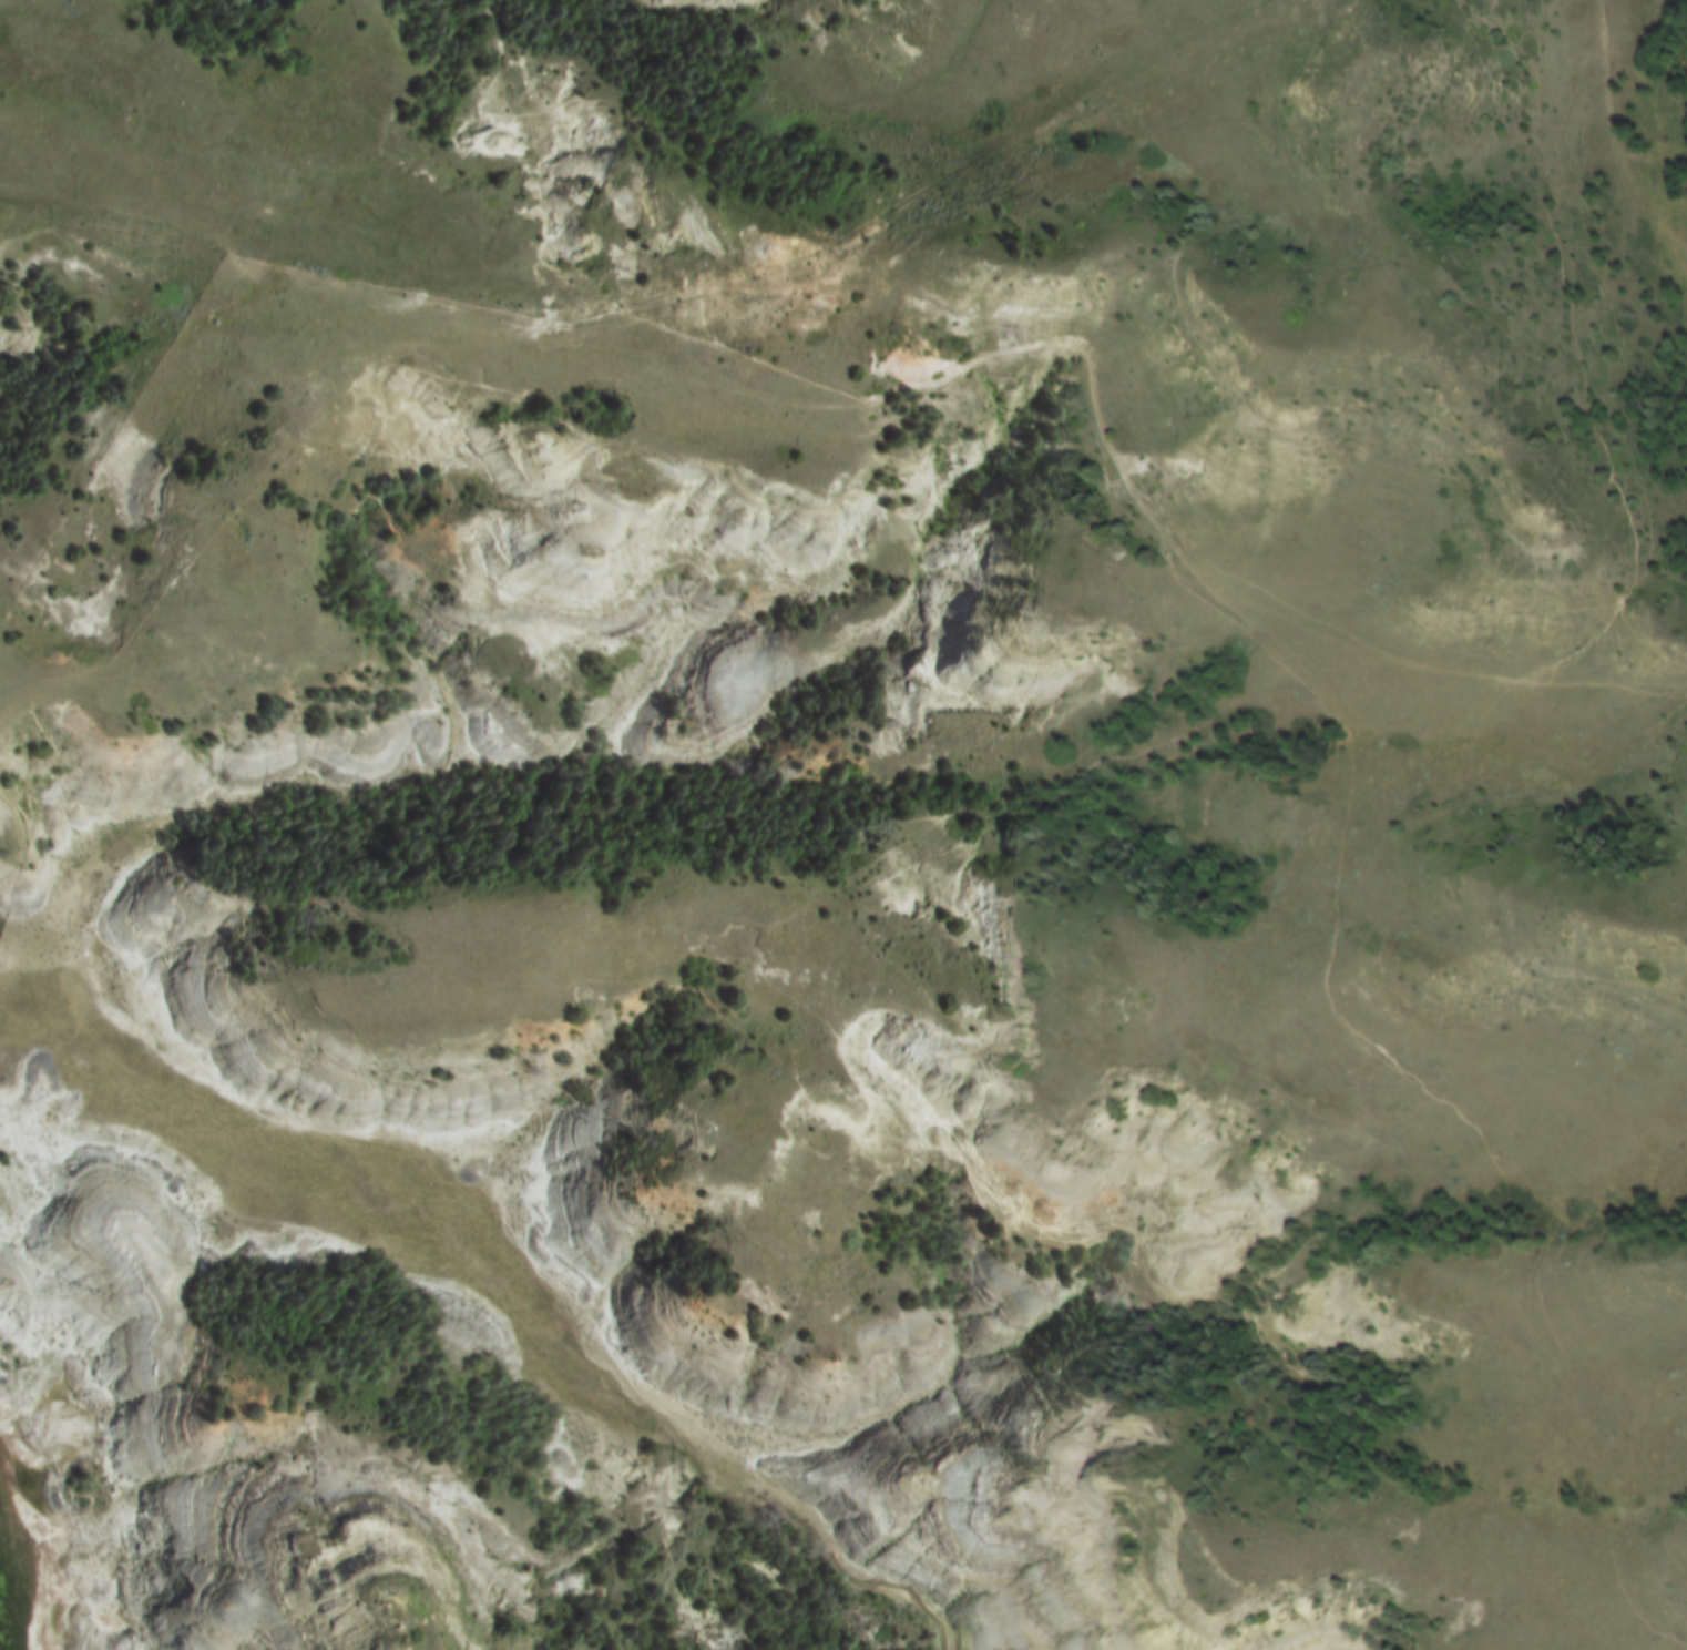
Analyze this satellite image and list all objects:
road: (1617, 135)

